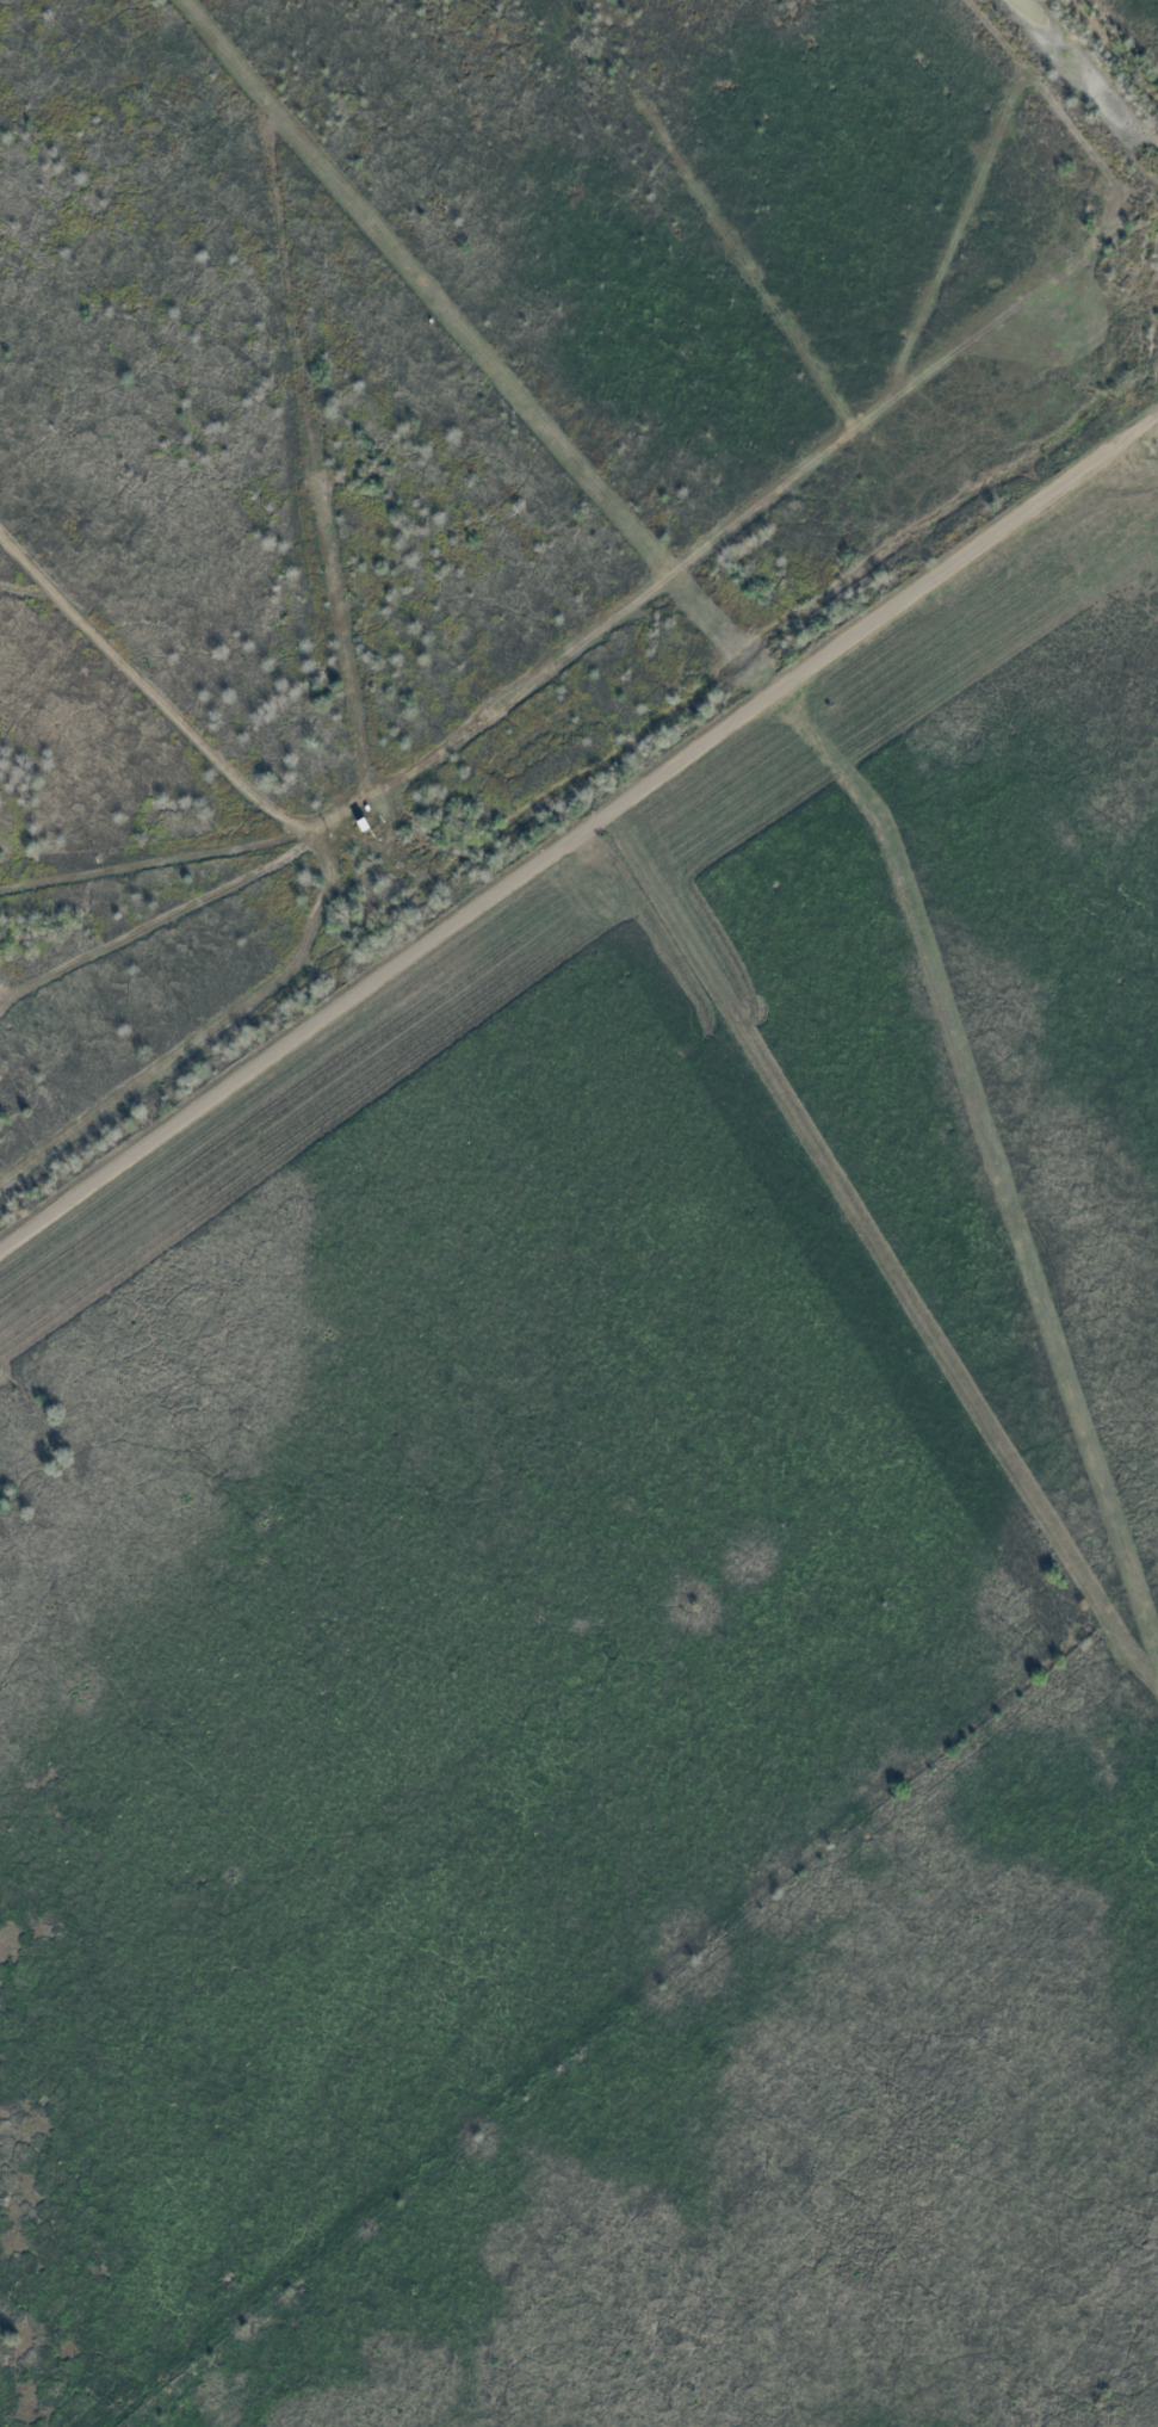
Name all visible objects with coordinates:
road: (577, 830)

